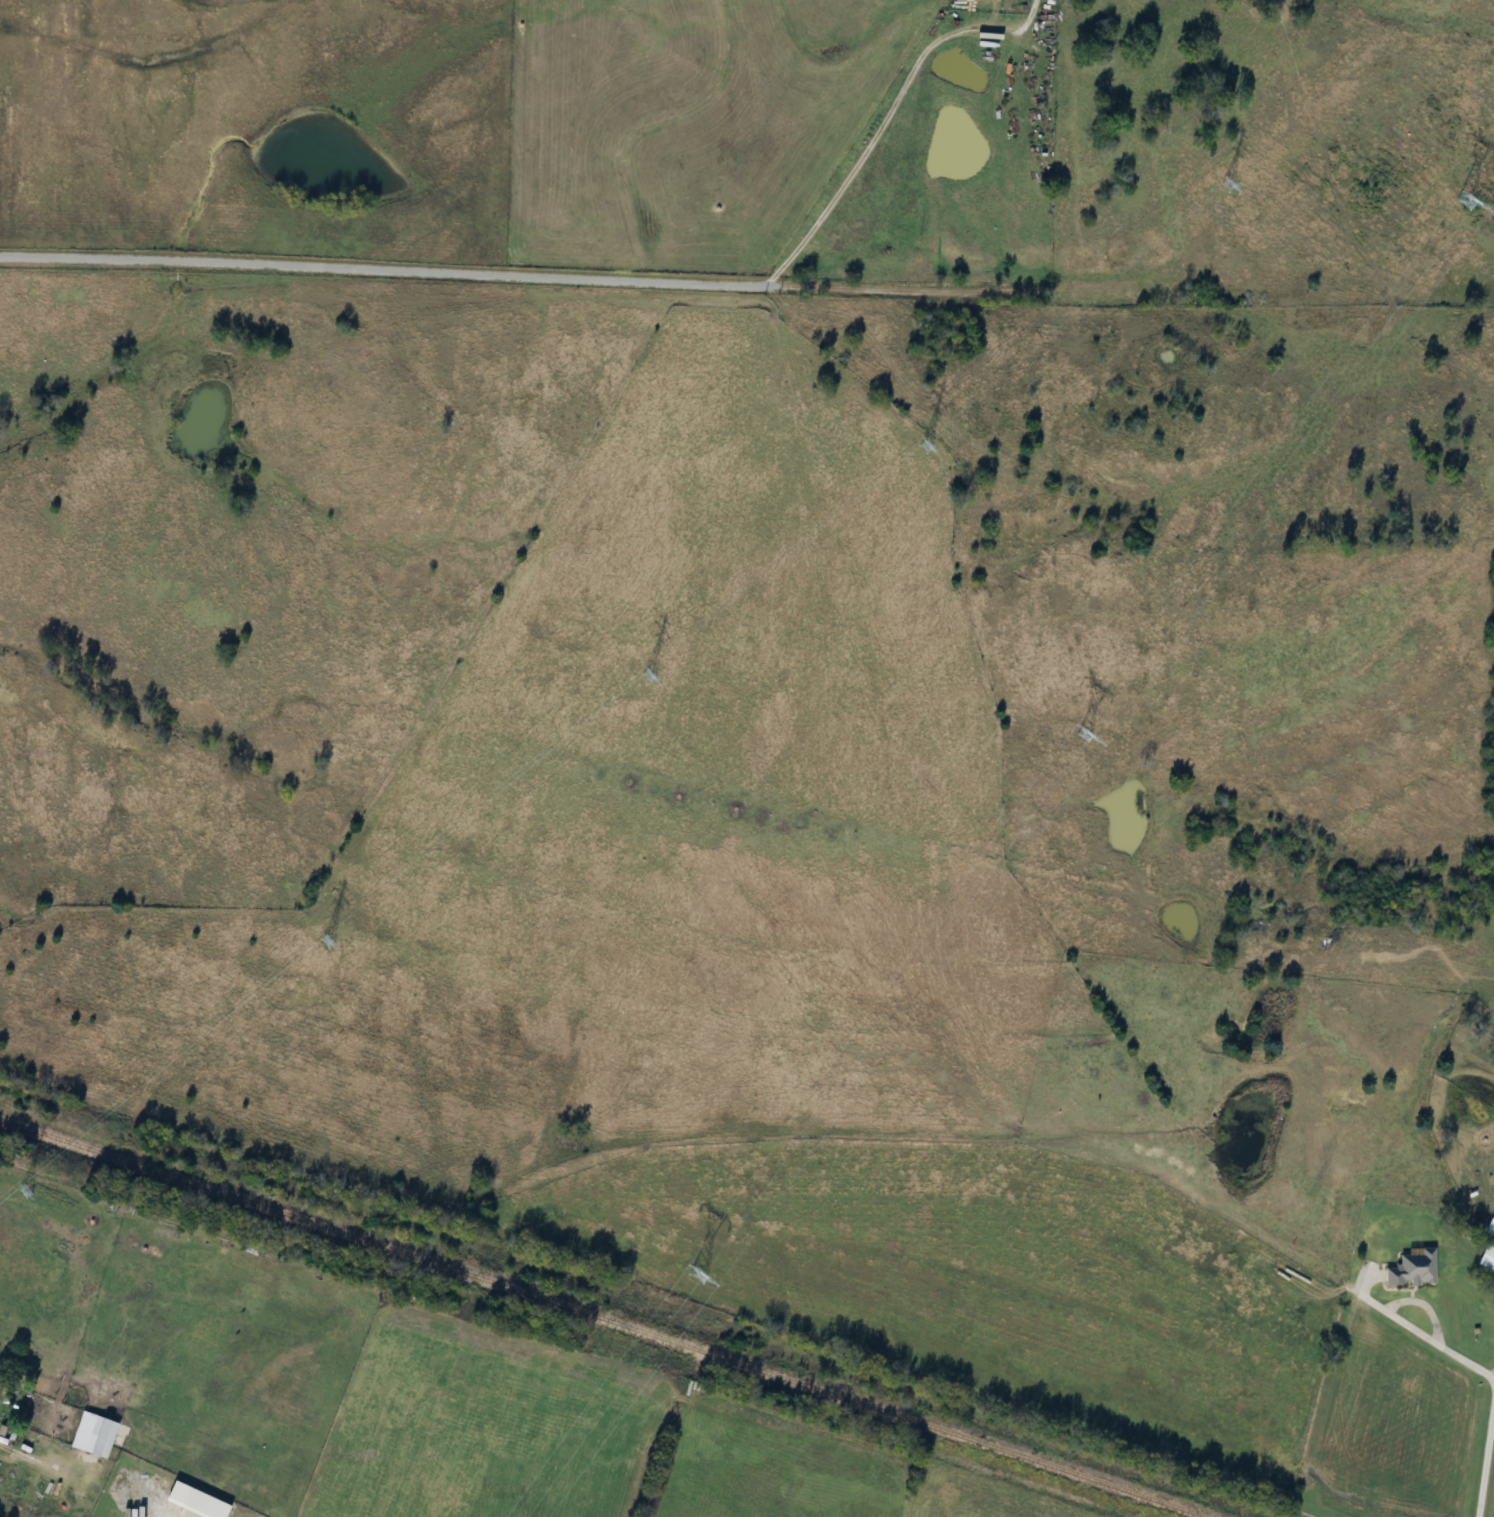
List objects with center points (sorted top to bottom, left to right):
road: (876, 130)
power tower: (1212, 183)
power tower: (1460, 201)
road: (373, 270)
power tower: (923, 449)
power tower: (646, 682)
power tower: (1080, 736)
power tower: (325, 951)
power tower: (33, 1193)
building: (1489, 1228)
building: (1485, 1259)
building: (1409, 1269)
power tower: (697, 1276)
road: (1396, 1301)
railway: (601, 1318)
road: (1465, 1357)
building: (0, 1382)
building: (96, 1435)
road: (1482, 1458)
building: (223, 1511)

